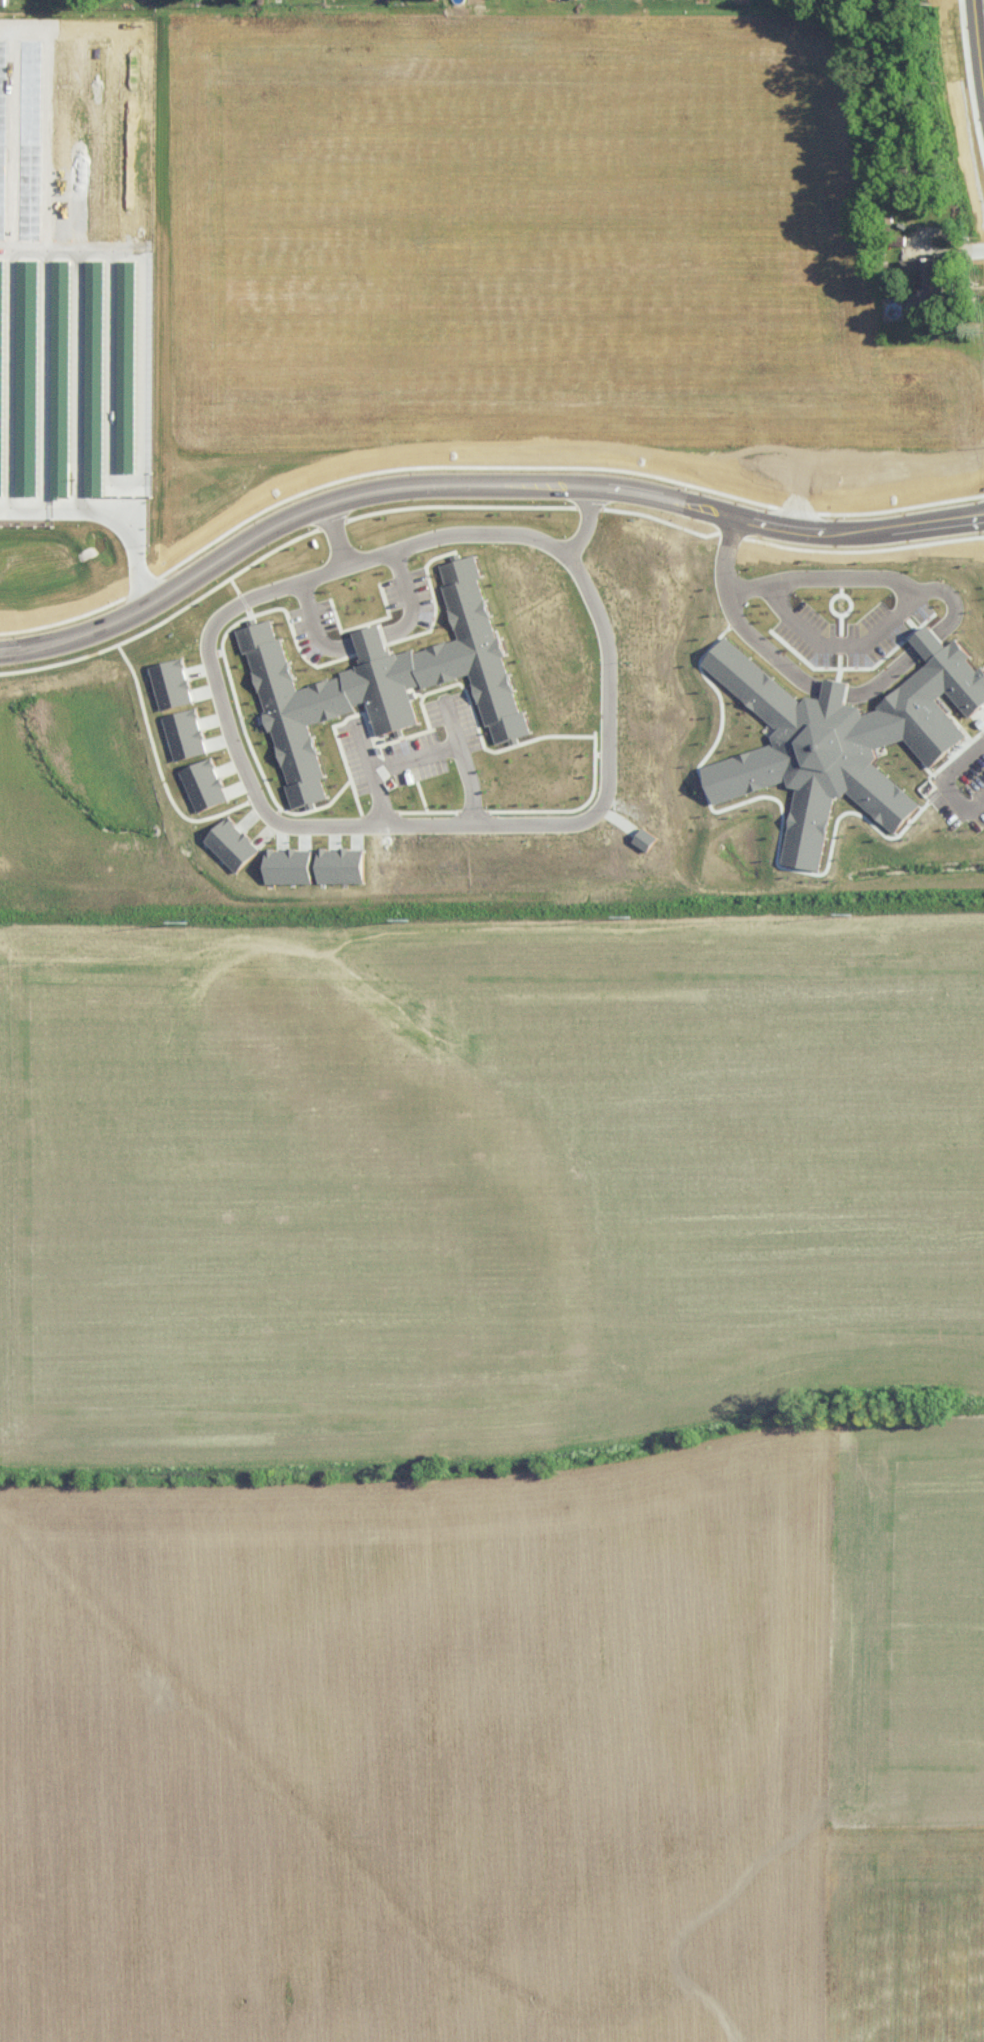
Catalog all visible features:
road: (975, 55)
road: (919, 237)
road: (976, 249)
building: (127, 277)
building: (930, 280)
building: (28, 297)
building: (61, 297)
building: (1, 364)
building: (95, 474)
building: (61, 476)
building: (27, 478)
road: (328, 500)
road: (710, 508)
road: (585, 520)
road: (917, 524)
road: (790, 526)
road: (331, 530)
road: (880, 576)
road: (369, 638)
building: (383, 678)
building: (170, 683)
building: (185, 732)
building: (842, 737)
road: (413, 754)
road: (464, 760)
road: (370, 770)
road: (943, 779)
building: (203, 781)
road: (508, 823)
building: (645, 837)
building: (231, 840)
building: (342, 862)
building: (290, 863)

